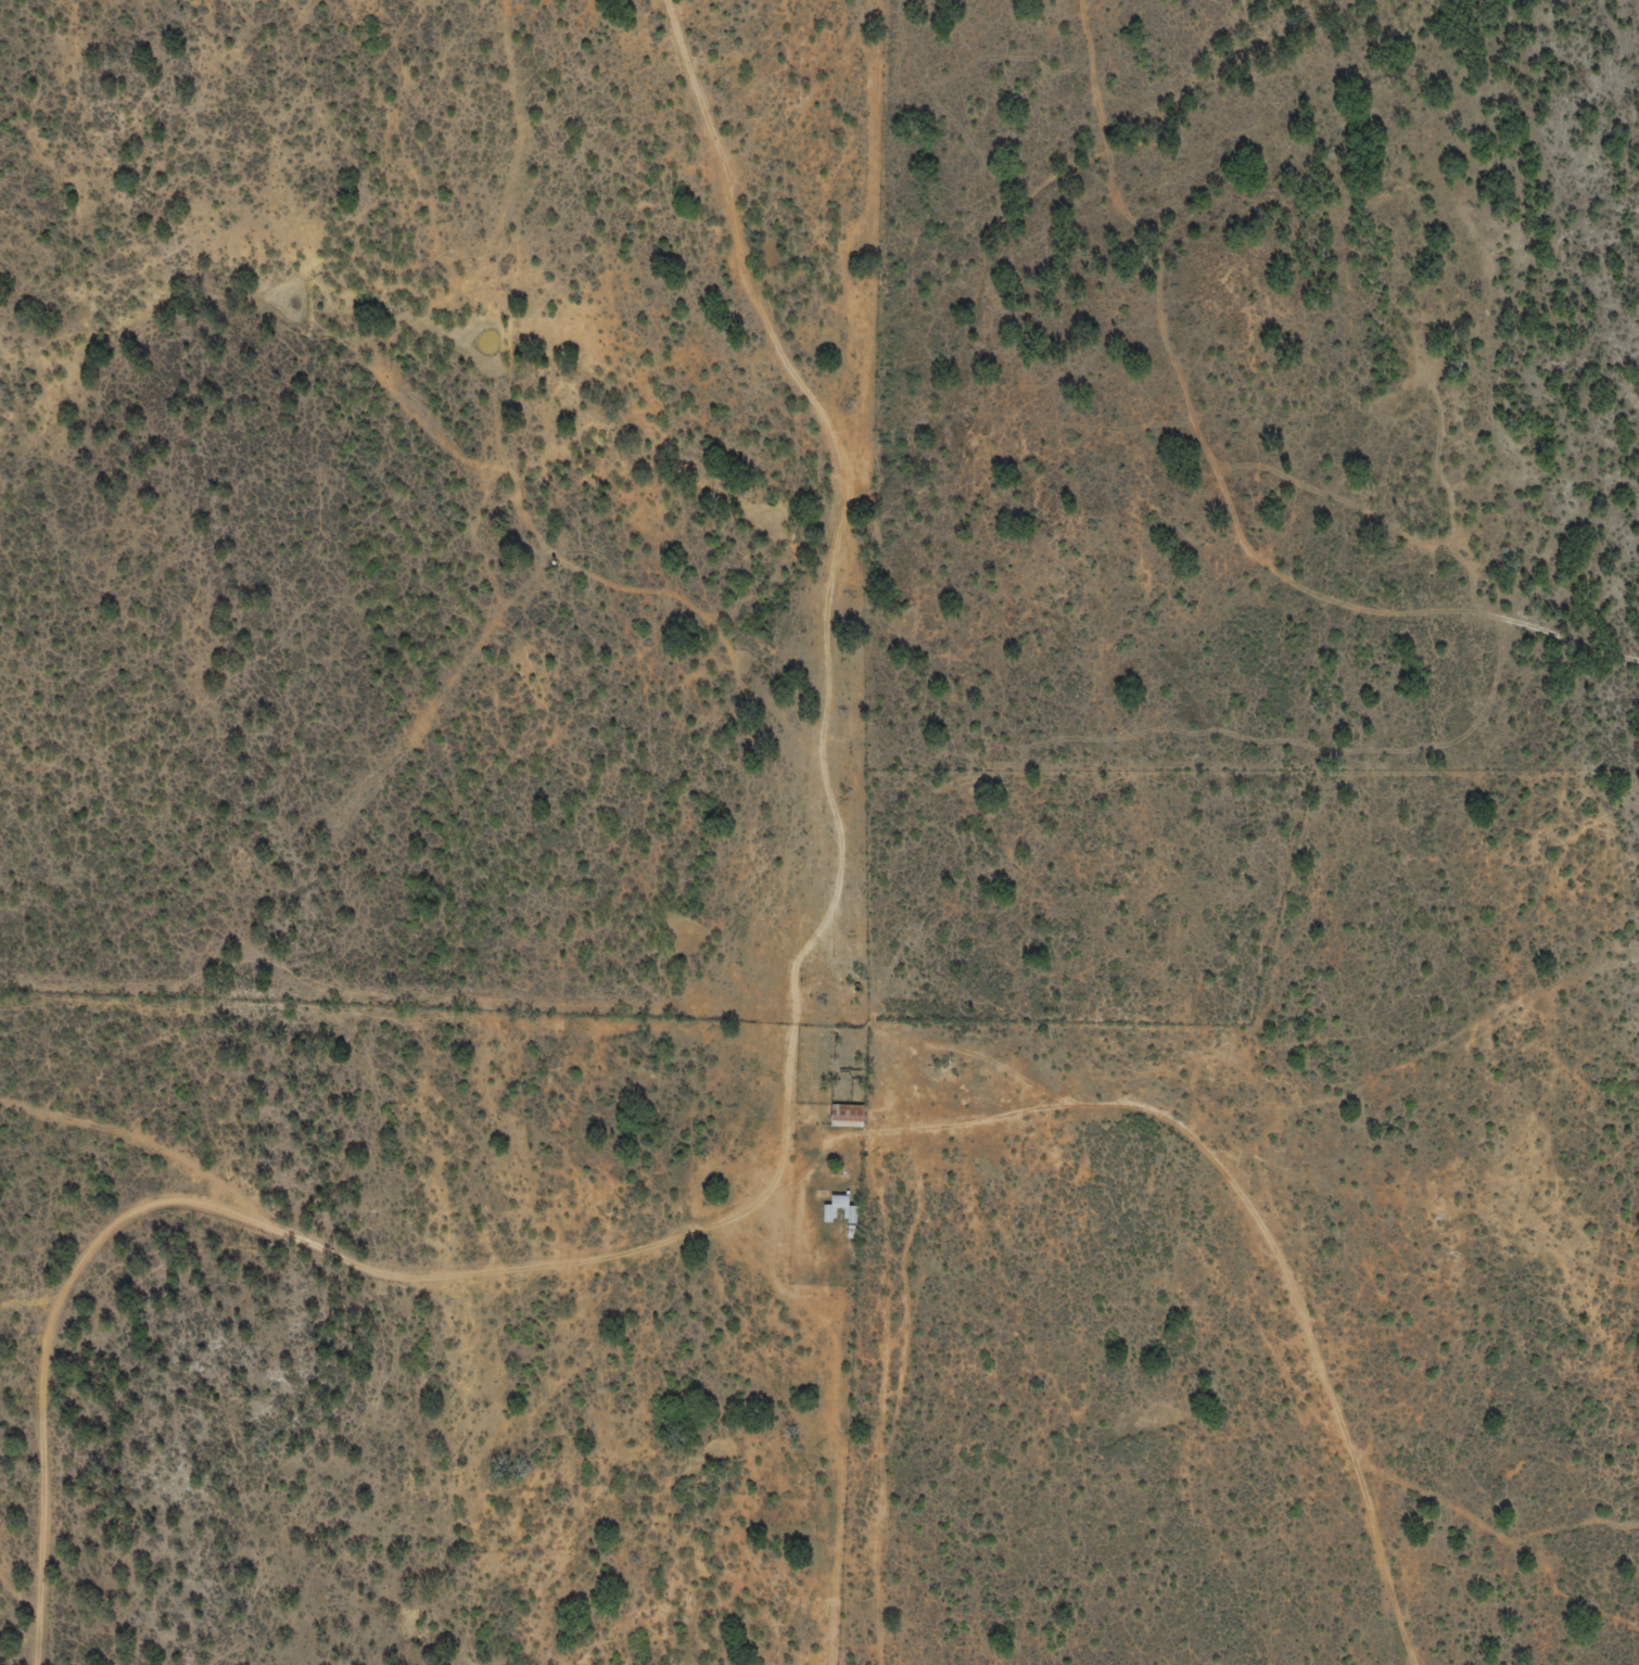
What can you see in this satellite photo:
road: (830, 1157)
building: (848, 1216)
road: (1283, 1236)

